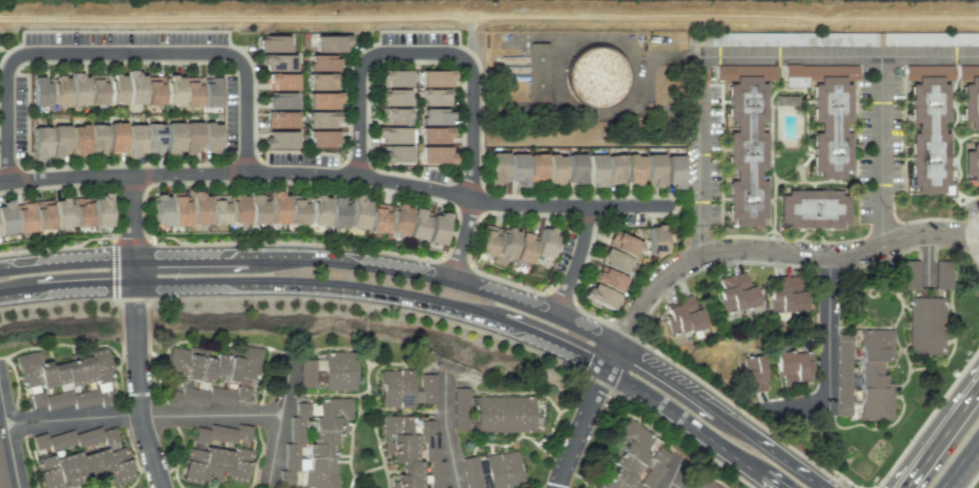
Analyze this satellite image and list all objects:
road: (489, 17)
parking lot: (125, 37)
parking lot: (420, 37)
parking lot: (56, 38)
parking lot: (195, 38)
building: (721, 38)
building: (836, 39)
building: (943, 39)
building: (272, 43)
building: (331, 43)
road: (121, 52)
road: (425, 52)
road: (676, 55)
road: (838, 55)
building: (278, 62)
building: (322, 63)
building: (521, 67)
building: (520, 75)
building: (796, 75)
building: (394, 78)
building: (435, 78)
building: (545, 80)
building: (322, 81)
building: (280, 82)
building: (521, 84)
building: (605, 86)
building: (134, 87)
building: (77, 89)
building: (96, 89)
building: (115, 89)
building: (58, 90)
building: (152, 90)
building: (39, 91)
building: (172, 91)
building: (191, 91)
building: (209, 92)
building: (393, 97)
building: (435, 97)
building: (280, 100)
building: (323, 100)
building: (973, 103)
parking lot: (231, 112)
parking lot: (20, 115)
building: (393, 116)
building: (435, 116)
building: (280, 119)
building: (320, 120)
building: (836, 128)
building: (191, 136)
building: (936, 136)
building: (96, 137)
building: (114, 137)
building: (172, 137)
building: (210, 137)
building: (153, 138)
building: (322, 138)
building: (77, 139)
building: (279, 139)
building: (58, 140)
building: (134, 140)
building: (39, 142)
building: (393, 143)
building: (435, 144)
road: (881, 149)
building: (749, 152)
road: (698, 156)
parking lot: (300, 158)
building: (973, 163)
building: (497, 168)
building: (535, 168)
building: (575, 168)
building: (633, 169)
building: (654, 169)
building: (516, 170)
building: (554, 170)
building: (594, 170)
building: (614, 170)
building: (673, 172)
road: (334, 175)
road: (129, 188)
building: (198, 208)
building: (277, 208)
building: (159, 209)
building: (218, 209)
building: (237, 209)
building: (256, 209)
building: (100, 210)
building: (178, 210)
building: (317, 210)
building: (297, 211)
building: (818, 211)
building: (61, 212)
building: (81, 212)
building: (336, 212)
building: (357, 212)
building: (43, 214)
road: (116, 214)
building: (23, 216)
road: (130, 217)
building: (6, 218)
building: (377, 218)
building: (398, 219)
road: (129, 234)
road: (971, 236)
street lamp: (183, 240)
road: (460, 240)
building: (486, 241)
building: (655, 241)
street lamp: (346, 243)
building: (544, 244)
building: (622, 244)
building: (504, 247)
street lamp: (9, 249)
building: (522, 249)
parking lot: (564, 250)
street lamp: (426, 256)
road: (697, 257)
road: (436, 258)
road: (927, 259)
road: (187, 261)
road: (574, 262)
building: (613, 262)
road: (65, 265)
road: (113, 268)
building: (943, 274)
building: (911, 275)
road: (434, 280)
street lamp: (518, 282)
building: (608, 282)
building: (736, 292)
building: (786, 295)
road: (412, 297)
building: (599, 298)
building: (683, 316)
road: (828, 326)
building: (926, 326)
road: (661, 355)
building: (340, 367)
building: (793, 367)
building: (306, 373)
building: (753, 373)
building: (843, 374)
building: (209, 375)
building: (875, 375)
road: (137, 376)
building: (63, 377)
road: (663, 380)
building: (397, 385)
building: (460, 408)
building: (503, 411)
road: (142, 415)
road: (278, 419)
road: (925, 419)
road: (935, 429)
road: (445, 430)
road: (8, 441)
building: (313, 444)
road: (768, 449)
building: (411, 452)
building: (217, 456)
building: (79, 457)
building: (626, 457)
road: (962, 465)
building: (502, 467)
building: (1, 471)
road: (674, 471)
road: (973, 480)
building: (703, 483)
road: (674, 484)
road: (875, 487)

